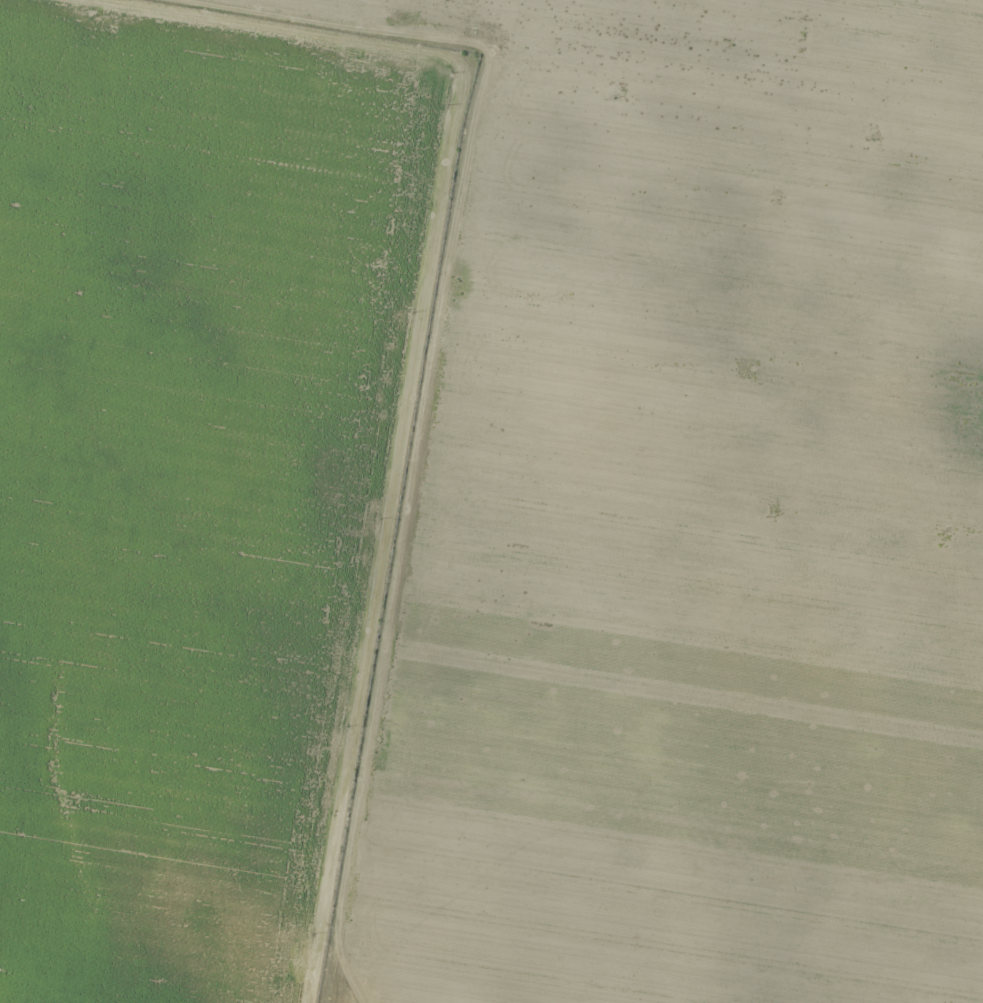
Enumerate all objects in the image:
landfill: (889, 14)
road: (224, 39)

